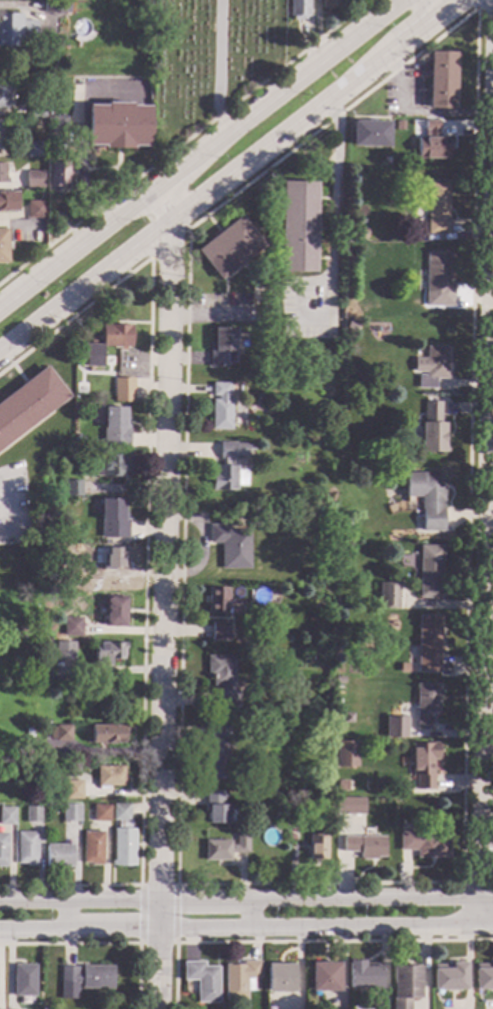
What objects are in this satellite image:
building: (328, 4)
road: (471, 4)
road: (480, 4)
building: (56, 6)
road: (442, 6)
building: (297, 9)
building: (15, 29)
park: (206, 61)
road: (217, 66)
building: (422, 68)
building: (440, 80)
parking lot: (401, 92)
building: (3, 93)
road: (276, 93)
building: (422, 96)
building: (36, 109)
road: (316, 110)
road: (419, 111)
building: (58, 125)
building: (118, 126)
building: (399, 126)
building: (369, 133)
building: (0, 135)
road: (184, 141)
building: (429, 141)
building: (34, 150)
building: (387, 161)
building: (1, 173)
building: (58, 174)
building: (34, 180)
building: (9, 201)
road: (162, 204)
building: (436, 206)
building: (35, 209)
road: (150, 217)
building: (297, 227)
building: (358, 232)
road: (331, 239)
road: (168, 243)
building: (40, 244)
building: (3, 246)
road: (76, 247)
building: (229, 248)
building: (260, 276)
building: (436, 281)
road: (85, 288)
parking lot: (306, 307)
parking lot: (225, 308)
road: (210, 314)
building: (116, 335)
building: (222, 347)
building: (89, 356)
building: (431, 367)
building: (123, 390)
building: (397, 398)
building: (28, 404)
building: (221, 408)
building: (430, 428)
building: (115, 429)
building: (228, 465)
building: (113, 466)
building: (73, 488)
building: (426, 497)
road: (10, 510)
building: (113, 520)
building: (287, 520)
building: (347, 521)
building: (106, 541)
building: (231, 547)
building: (117, 562)
building: (65, 570)
building: (429, 572)
road: (165, 574)
road: (487, 582)
building: (388, 595)
building: (263, 596)
building: (218, 601)
building: (115, 611)
building: (72, 627)
building: (220, 632)
building: (427, 640)
building: (64, 651)
building: (108, 653)
building: (403, 668)
building: (223, 679)
building: (339, 680)
building: (425, 705)
building: (347, 717)
building: (397, 731)
building: (61, 733)
building: (108, 734)
building: (216, 753)
building: (346, 754)
building: (423, 764)
building: (110, 776)
building: (341, 785)
building: (73, 790)
building: (348, 805)
building: (215, 808)
building: (71, 813)
building: (101, 813)
building: (33, 814)
building: (7, 815)
building: (415, 825)
building: (122, 836)
building: (425, 845)
building: (316, 846)
building: (364, 846)
building: (27, 848)
building: (93, 848)
building: (225, 848)
building: (3, 850)
building: (59, 856)
road: (477, 883)
road: (246, 884)
road: (157, 885)
road: (246, 899)
road: (246, 913)
road: (138, 914)
road: (176, 914)
road: (61, 915)
road: (326, 926)
road: (80, 928)
road: (300, 941)
road: (156, 943)
road: (159, 968)
building: (363, 976)
building: (86, 977)
building: (325, 977)
building: (280, 978)
building: (449, 978)
building: (483, 979)
building: (203, 980)
building: (240, 980)
building: (24, 981)
building: (404, 986)
building: (45, 1008)

